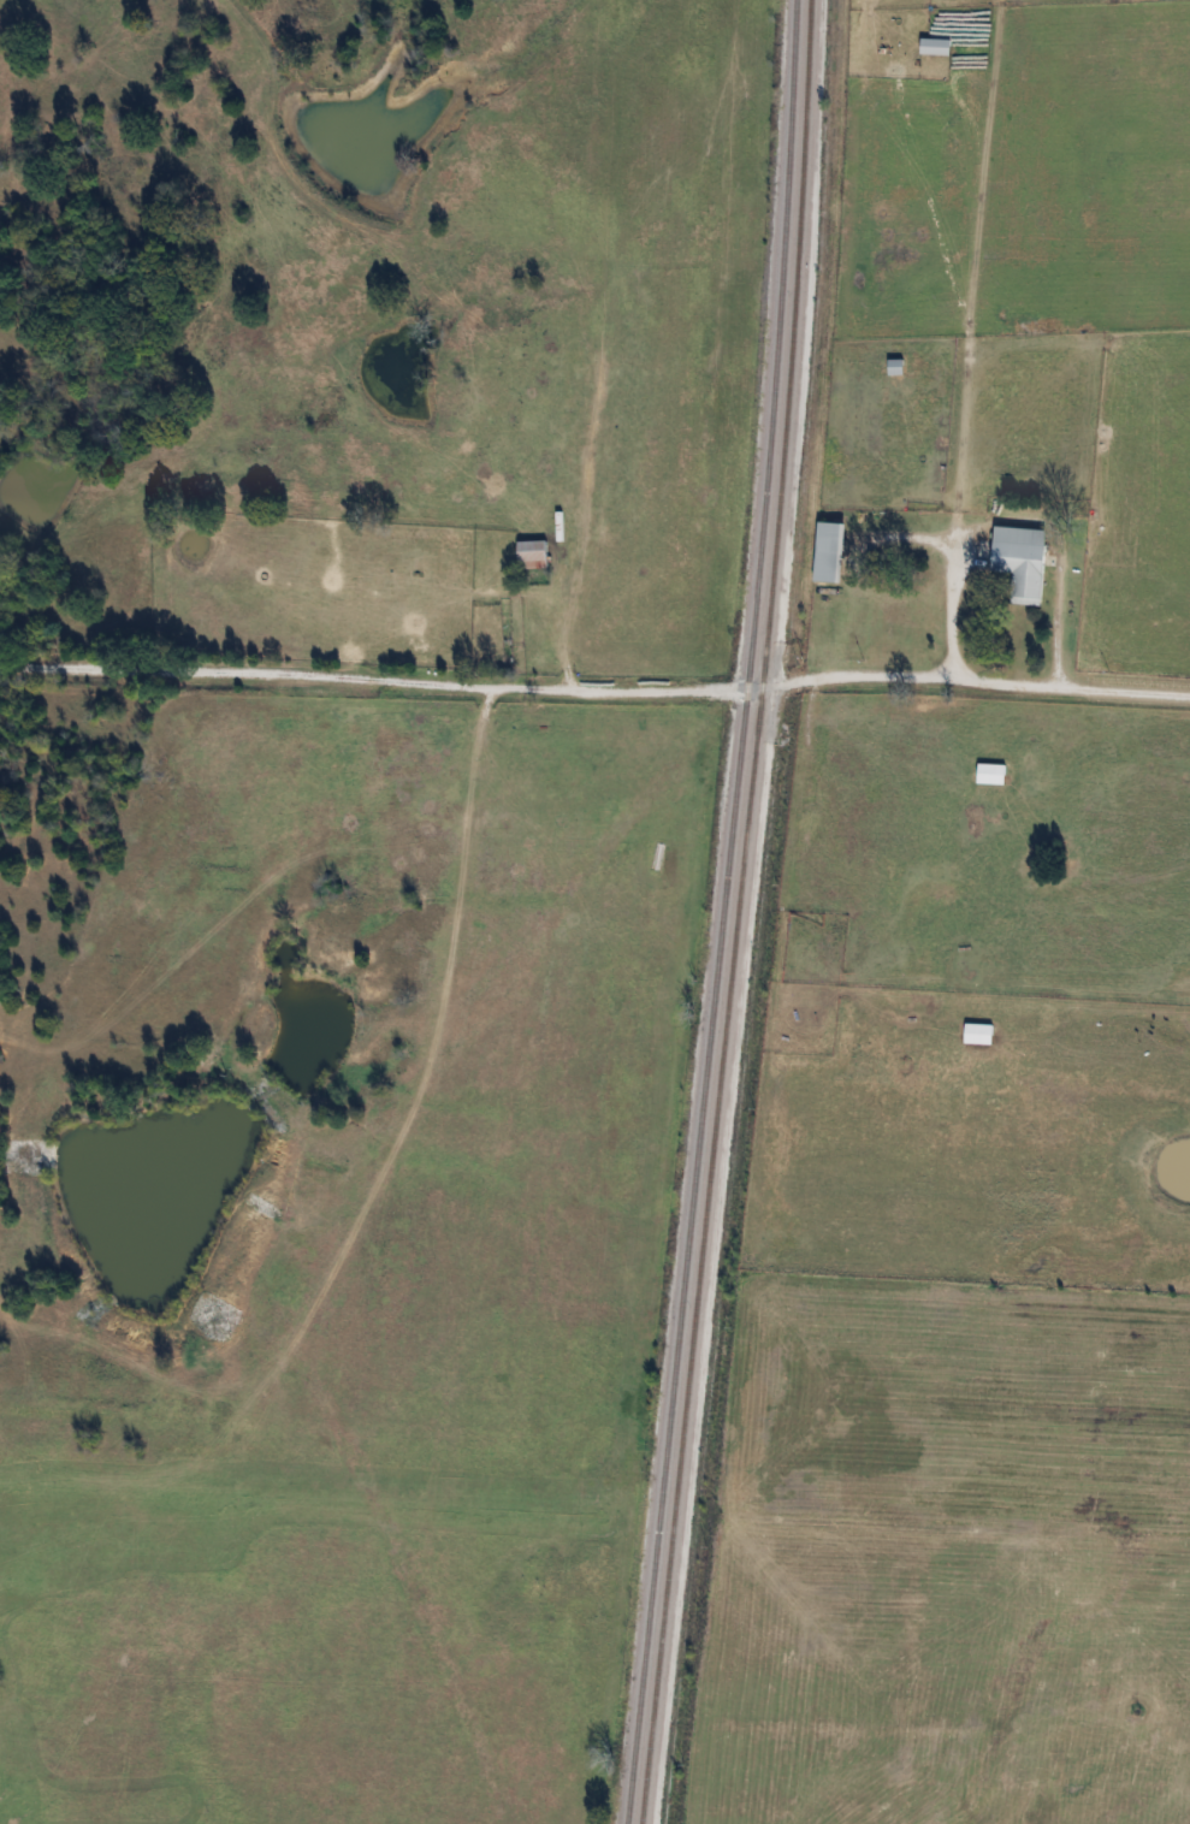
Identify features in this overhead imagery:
building: (935, 45)
building: (896, 366)
building: (830, 551)
building: (533, 553)
building: (1022, 561)
road: (594, 693)
building: (991, 772)
railway: (735, 912)
building: (979, 1032)

